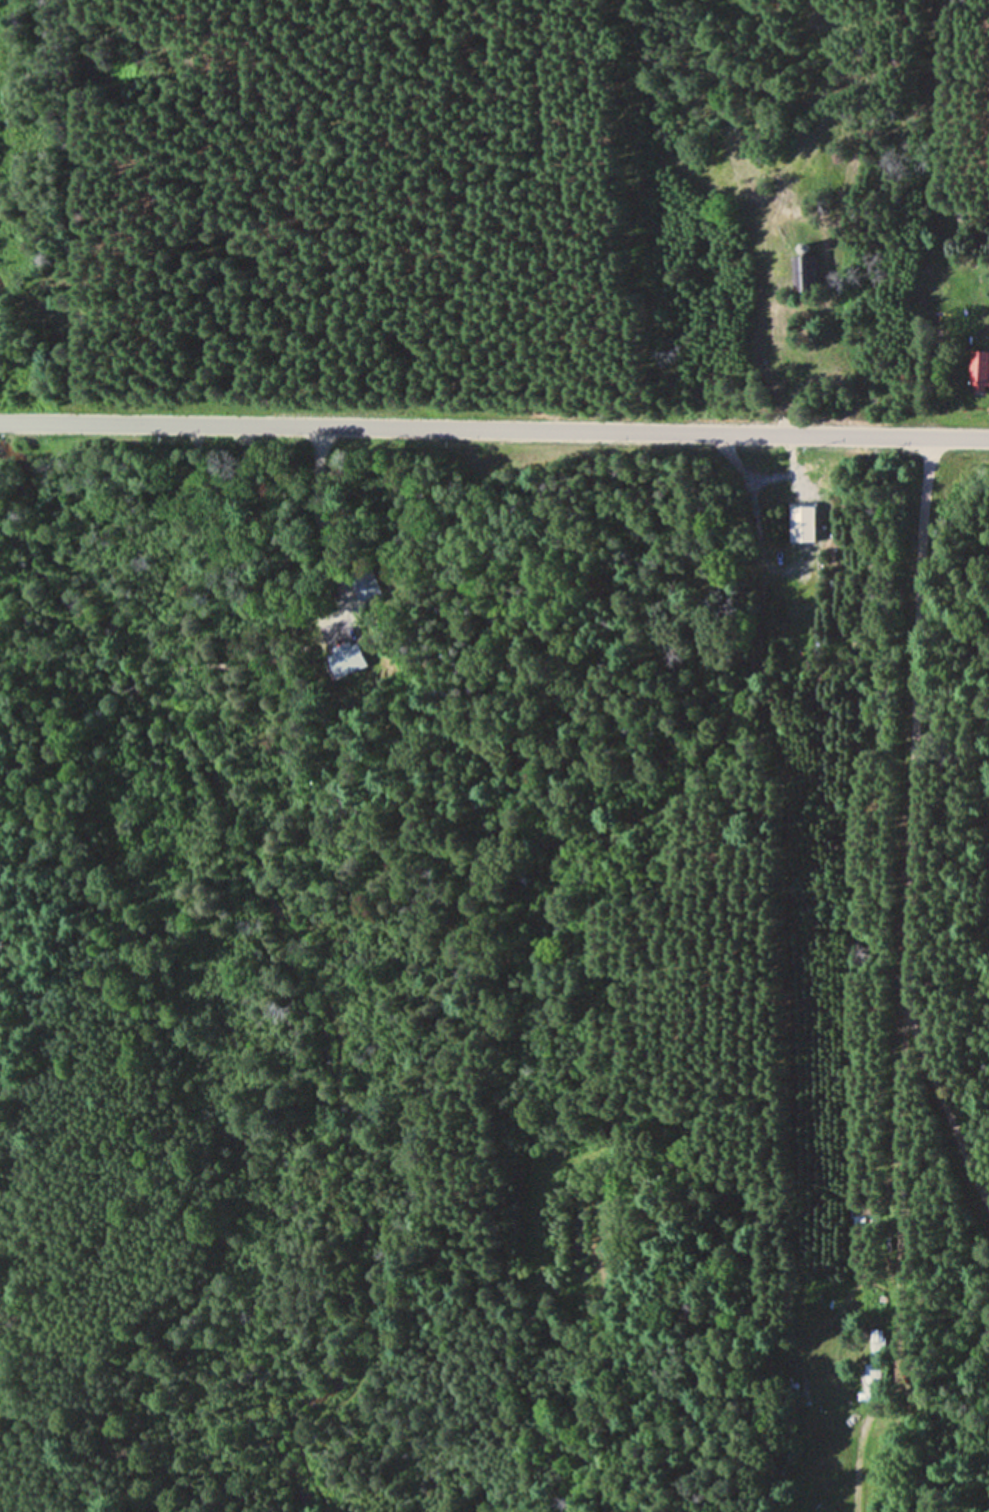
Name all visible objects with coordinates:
road: (494, 430)
road: (763, 476)
building: (796, 524)
road: (757, 529)
road: (902, 824)
building: (867, 1212)
road: (902, 1251)

